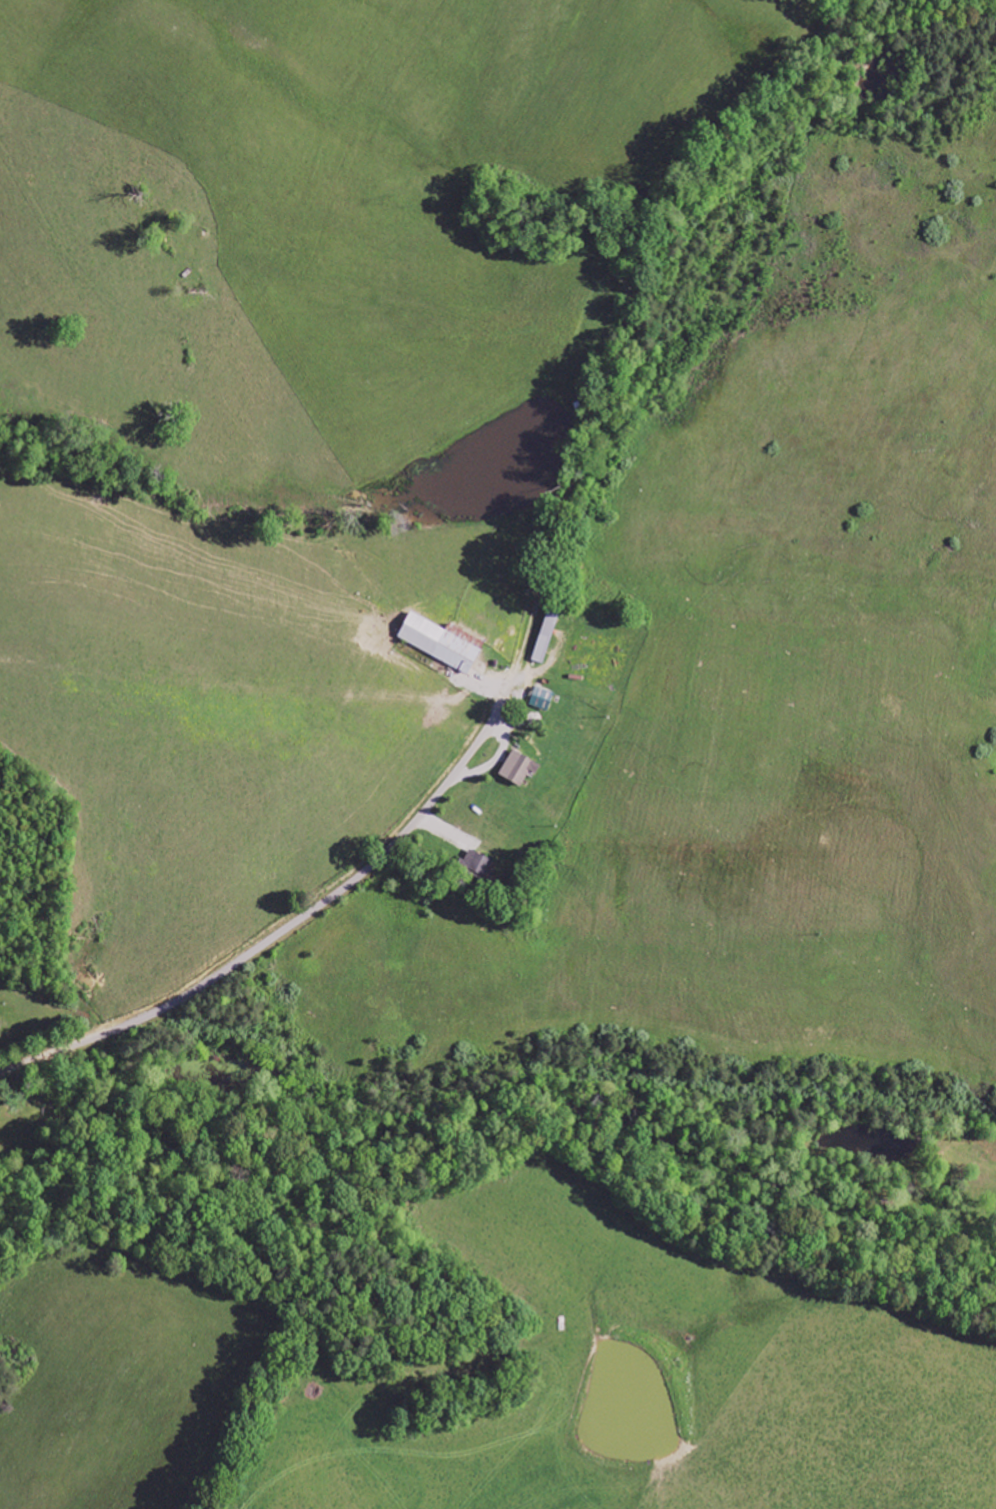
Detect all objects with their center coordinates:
building: (546, 637)
building: (443, 642)
building: (542, 699)
building: (519, 768)
building: (478, 865)
road: (284, 927)

